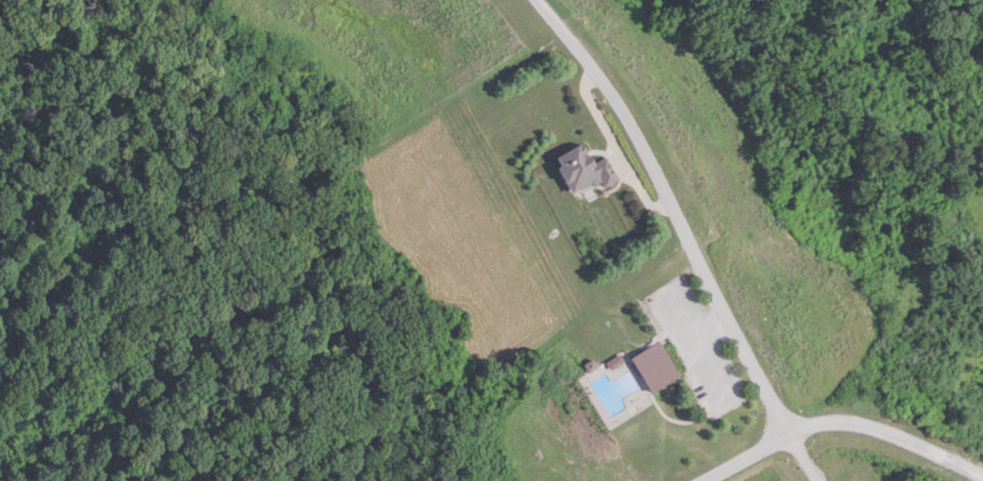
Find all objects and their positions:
building: (579, 170)
road: (684, 235)
building: (653, 365)
road: (842, 423)

